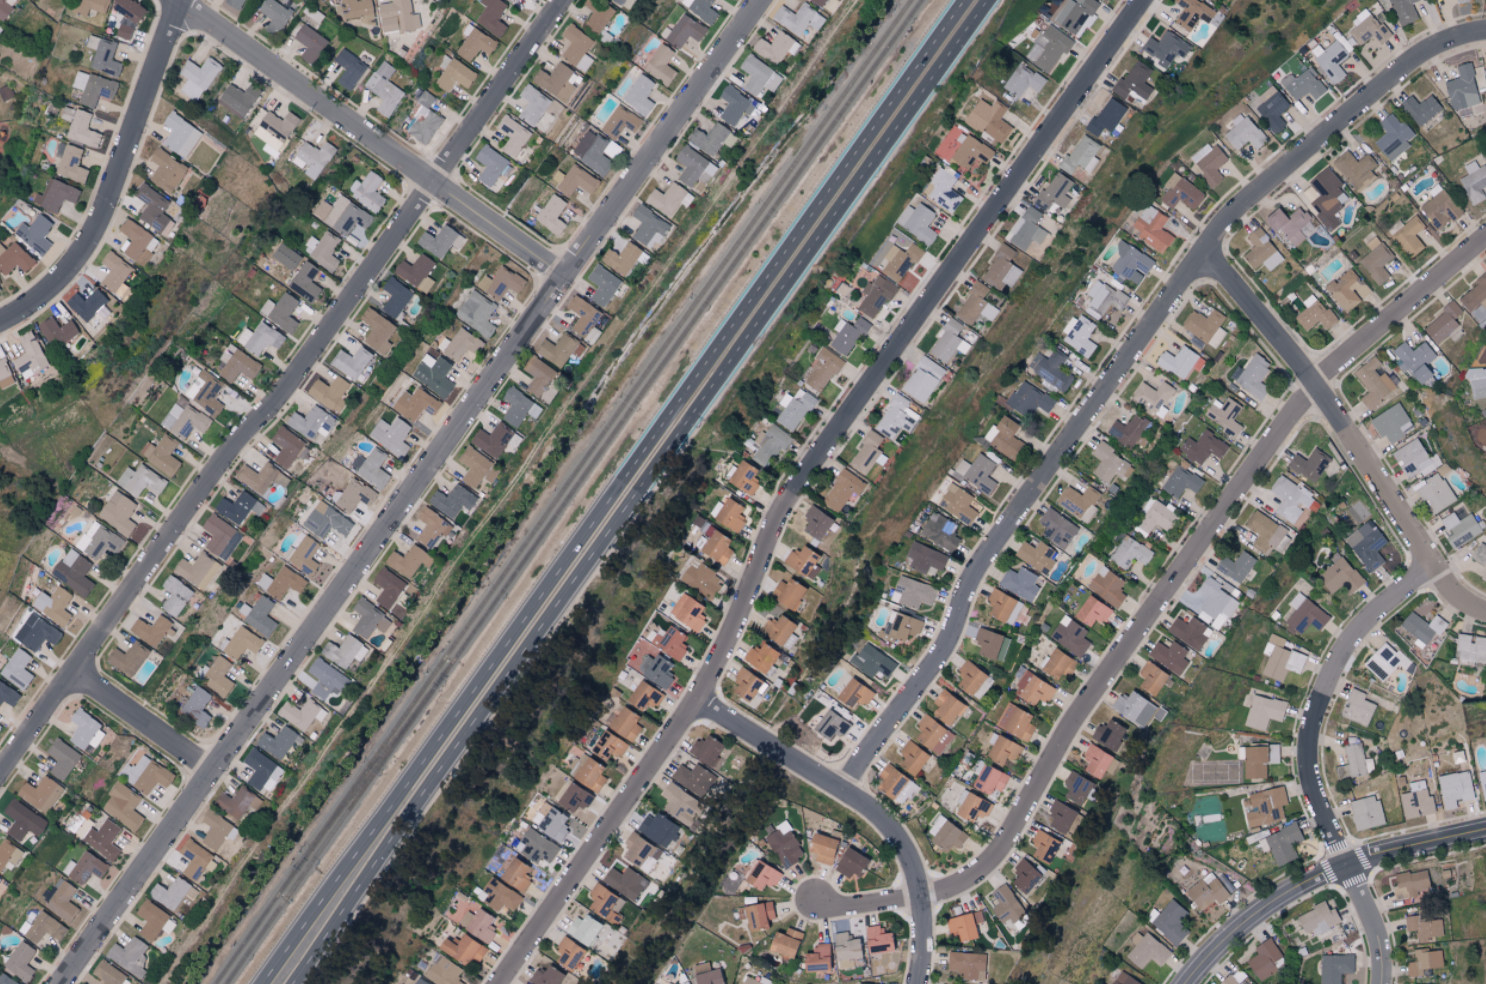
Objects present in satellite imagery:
building: (509, 0)
building: (837, 0)
building: (1461, 1)
building: (619, 2)
building: (817, 2)
building: (233, 3)
building: (89, 6)
building: (699, 9)
building: (4, 10)
building: (356, 10)
building: (1403, 11)
building: (1192, 13)
building: (274, 16)
building: (491, 16)
building: (596, 16)
building: (1075, 16)
building: (127, 17)
building: (397, 17)
building: (797, 19)
building: (1366, 28)
building: (684, 31)
building: (309, 43)
building: (474, 43)
building: (577, 48)
building: (774, 48)
building: (1048, 48)
building: (1164, 48)
building: (102, 56)
building: (1330, 61)
building: (660, 65)
building: (349, 69)
building: (454, 76)
building: (198, 77)
building: (758, 77)
building: (1023, 80)
building: (557, 82)
building: (1133, 82)
building: (1302, 84)
building: (92, 88)
building: (1461, 88)
building: (385, 89)
building: (5, 93)
building: (638, 95)
building: (237, 99)
building: (533, 105)
building: (732, 105)
building: (1271, 109)
building: (1420, 109)
building: (1104, 117)
building: (988, 119)
building: (424, 120)
building: (620, 122)
building: (278, 124)
building: (82, 130)
building: (1244, 134)
building: (180, 136)
building: (1393, 136)
road: (374, 138)
building: (513, 138)
building: (708, 139)
building: (969, 151)
building: (595, 152)
building: (1080, 155)
building: (312, 158)
building: (1208, 163)
building: (71, 165)
building: (491, 166)
building: (693, 167)
building: (1355, 169)
building: (166, 170)
road: (114, 176)
building: (576, 181)
building: (1473, 181)
building: (942, 190)
building: (1053, 191)
building: (369, 192)
building: (1180, 192)
building: (1309, 193)
building: (55, 195)
building: (1326, 197)
building: (667, 200)
building: (153, 209)
building: (1439, 209)
building: (342, 215)
building: (550, 215)
building: (917, 222)
building: (1287, 223)
building: (647, 226)
building: (1027, 228)
building: (1151, 228)
building: (35, 233)
building: (1407, 235)
building: (439, 241)
building: (136, 242)
road: (789, 243)
road: (811, 246)
building: (322, 250)
building: (1261, 251)
building: (14, 258)
building: (620, 258)
building: (899, 261)
building: (1130, 263)
building: (1376, 263)
building: (1002, 267)
building: (114, 271)
building: (416, 272)
building: (304, 281)
building: (500, 283)
building: (602, 284)
building: (1347, 289)
building: (874, 296)
building: (395, 297)
building: (1104, 298)
building: (1476, 299)
building: (975, 304)
building: (91, 308)
building: (280, 311)
building: (476, 313)
building: (1314, 314)
building: (584, 318)
building: (1441, 323)
building: (1205, 326)
building: (378, 329)
building: (58, 331)
building: (847, 334)
building: (1079, 335)
building: (259, 338)
building: (948, 341)
building: (460, 344)
building: (556, 349)
building: (30, 355)
building: (1414, 360)
building: (1177, 361)
building: (351, 362)
building: (237, 364)
road: (1119, 368)
building: (1051, 369)
building: (822, 370)
building: (5, 374)
building: (433, 374)
building: (1254, 374)
building: (540, 379)
building: (922, 379)
building: (1372, 382)
building: (1476, 382)
road: (286, 390)
building: (209, 393)
building: (329, 393)
building: (1152, 397)
building: (1029, 399)
building: (414, 404)
building: (518, 406)
building: (793, 409)
building: (1224, 415)
building: (896, 417)
building: (184, 420)
building: (312, 422)
building: (1391, 423)
building: (1485, 425)
building: (1126, 430)
road: (1347, 433)
building: (390, 435)
building: (1003, 437)
building: (491, 439)
building: (769, 444)
building: (286, 446)
building: (1202, 447)
building: (145, 449)
building: (866, 451)
building: (163, 456)
building: (1414, 459)
building: (1108, 463)
building: (1308, 464)
building: (476, 467)
building: (373, 468)
building: (976, 473)
building: (256, 477)
building: (743, 477)
road: (798, 479)
building: (140, 480)
building: (1181, 482)
building: (842, 489)
road: (409, 490)
railway: (562, 491)
railway: (572, 491)
building: (1434, 492)
building: (352, 495)
building: (1289, 498)
building: (451, 500)
building: (957, 504)
building: (238, 507)
building: (118, 512)
building: (728, 514)
building: (1154, 517)
building: (325, 520)
building: (815, 522)
building: (431, 528)
building: (1056, 528)
building: (1459, 528)
building: (940, 531)
building: (1264, 531)
building: (220, 536)
building: (102, 541)
building: (1365, 545)
building: (716, 547)
building: (1130, 552)
building: (303, 554)
building: (1036, 556)
building: (1480, 557)
building: (925, 558)
building: (408, 561)
building: (801, 561)
building: (1235, 566)
building: (197, 570)
building: (73, 572)
building: (1338, 574)
building: (700, 579)
building: (280, 582)
building: (1019, 583)
building: (1106, 586)
building: (387, 587)
building: (787, 593)
building: (912, 593)
building: (175, 595)
road: (1158, 602)
building: (53, 604)
building: (1215, 604)
building: (1002, 607)
building: (1091, 611)
building: (687, 612)
building: (258, 614)
building: (1304, 614)
building: (368, 618)
building: (1421, 626)
building: (901, 627)
building: (150, 629)
building: (777, 629)
building: (1189, 632)
building: (35, 633)
building: (1069, 636)
building: (239, 643)
building: (669, 643)
building: (988, 645)
building: (1470, 648)
building: (344, 651)
building: (1168, 656)
building: (759, 657)
building: (128, 658)
building: (1280, 659)
building: (2, 661)
building: (872, 661)
building: (1057, 664)
building: (17, 669)
building: (654, 670)
building: (217, 676)
building: (968, 678)
building: (1150, 678)
building: (326, 679)
building: (745, 683)
building: (1033, 689)
building: (853, 693)
building: (8, 695)
building: (643, 696)
building: (196, 706)
building: (946, 707)
building: (1356, 707)
building: (1132, 708)
building: (1262, 711)
building: (302, 713)
road: (143, 720)
building: (1015, 722)
building: (0, 724)
building: (625, 725)
building: (830, 725)
building: (85, 729)
building: (1106, 734)
road: (443, 735)
building: (932, 735)
road: (462, 739)
building: (276, 742)
building: (607, 745)
building: (704, 749)
building: (1002, 750)
building: (911, 757)
building: (62, 759)
road: (1309, 759)
building: (1258, 760)
building: (1094, 761)
building: (1354, 763)
building: (260, 769)
railway: (370, 770)
building: (587, 773)
building: (146, 774)
building: (692, 779)
building: (988, 779)
building: (1483, 783)
building: (894, 785)
building: (1075, 788)
building: (1454, 789)
building: (40, 793)
building: (573, 798)
building: (1416, 800)
building: (236, 802)
building: (676, 803)
building: (122, 805)
building: (1263, 806)
road: (863, 807)
building: (971, 807)
building: (1365, 812)
building: (1059, 817)
building: (24, 820)
building: (552, 824)
building: (216, 830)
building: (657, 830)
building: (947, 836)
building: (103, 839)
building: (1283, 844)
building: (1043, 846)
building: (535, 847)
building: (783, 847)
building: (821, 847)
building: (639, 852)
building: (9, 853)
building: (194, 859)
building: (850, 863)
building: (84, 868)
building: (514, 875)
building: (761, 875)
building: (1024, 876)
road: (1320, 877)
building: (0, 879)
building: (624, 882)
building: (1410, 883)
building: (1206, 891)
building: (169, 893)
building: (499, 895)
building: (62, 901)
building: (603, 902)
building: (1005, 905)
building: (757, 915)
building: (1317, 919)
building: (150, 920)
building: (1168, 921)
building: (479, 926)
building: (964, 926)
building: (1423, 927)
building: (42, 928)
building: (581, 929)
building: (876, 940)
building: (783, 943)
building: (461, 950)
building: (845, 950)
building: (1146, 950)
building: (567, 954)
building: (129, 956)
building: (815, 958)
building: (1263, 959)
building: (20, 961)
building: (1423, 962)
building: (966, 965)
building: (1334, 967)
building: (442, 972)
building: (109, 974)
building: (705, 974)
building: (1239, 975)
building: (544, 976)
building: (6, 979)
building: (1123, 979)
building: (1227, 980)
building: (748, 981)
building: (418, 982)
building: (523, 983)
building: (667, 983)

